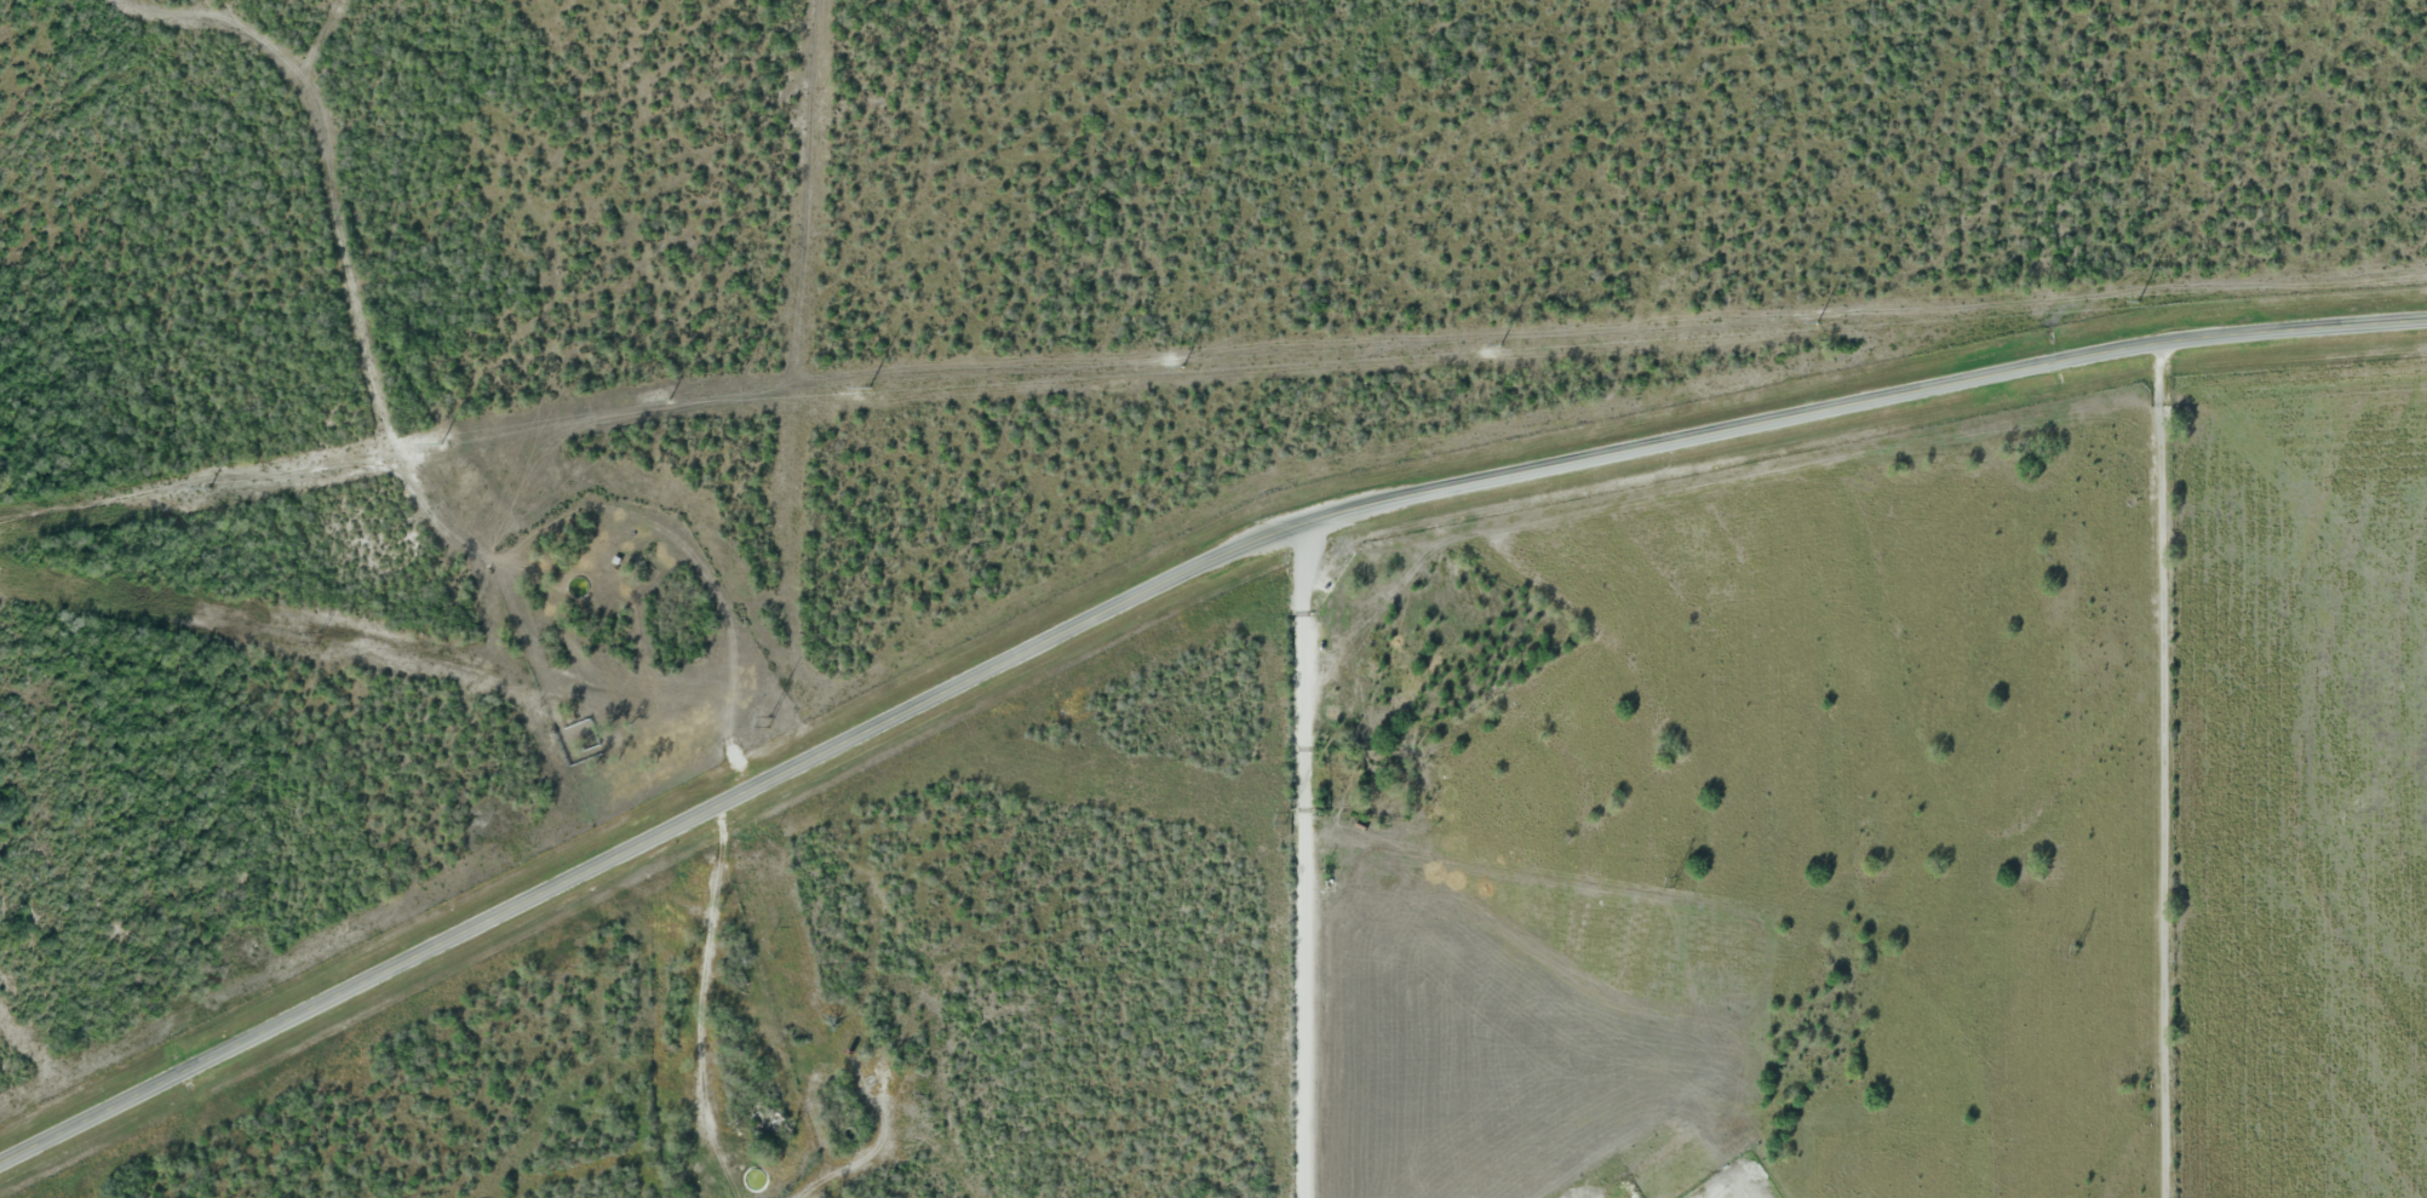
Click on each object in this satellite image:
power tower: (2140, 299)
power tower: (1818, 322)
power tower: (1501, 345)
power tower: (1184, 366)
power tower: (870, 386)
power tower: (671, 399)
power tower: (443, 443)
power tower: (212, 487)
road: (1161, 584)
power tower: (319, 640)
road: (1313, 647)
power tower: (769, 723)
road: (2163, 770)
power tower: (1283, 820)
power tower: (1671, 884)
power tower: (2077, 952)
road: (698, 978)
road: (1313, 984)

